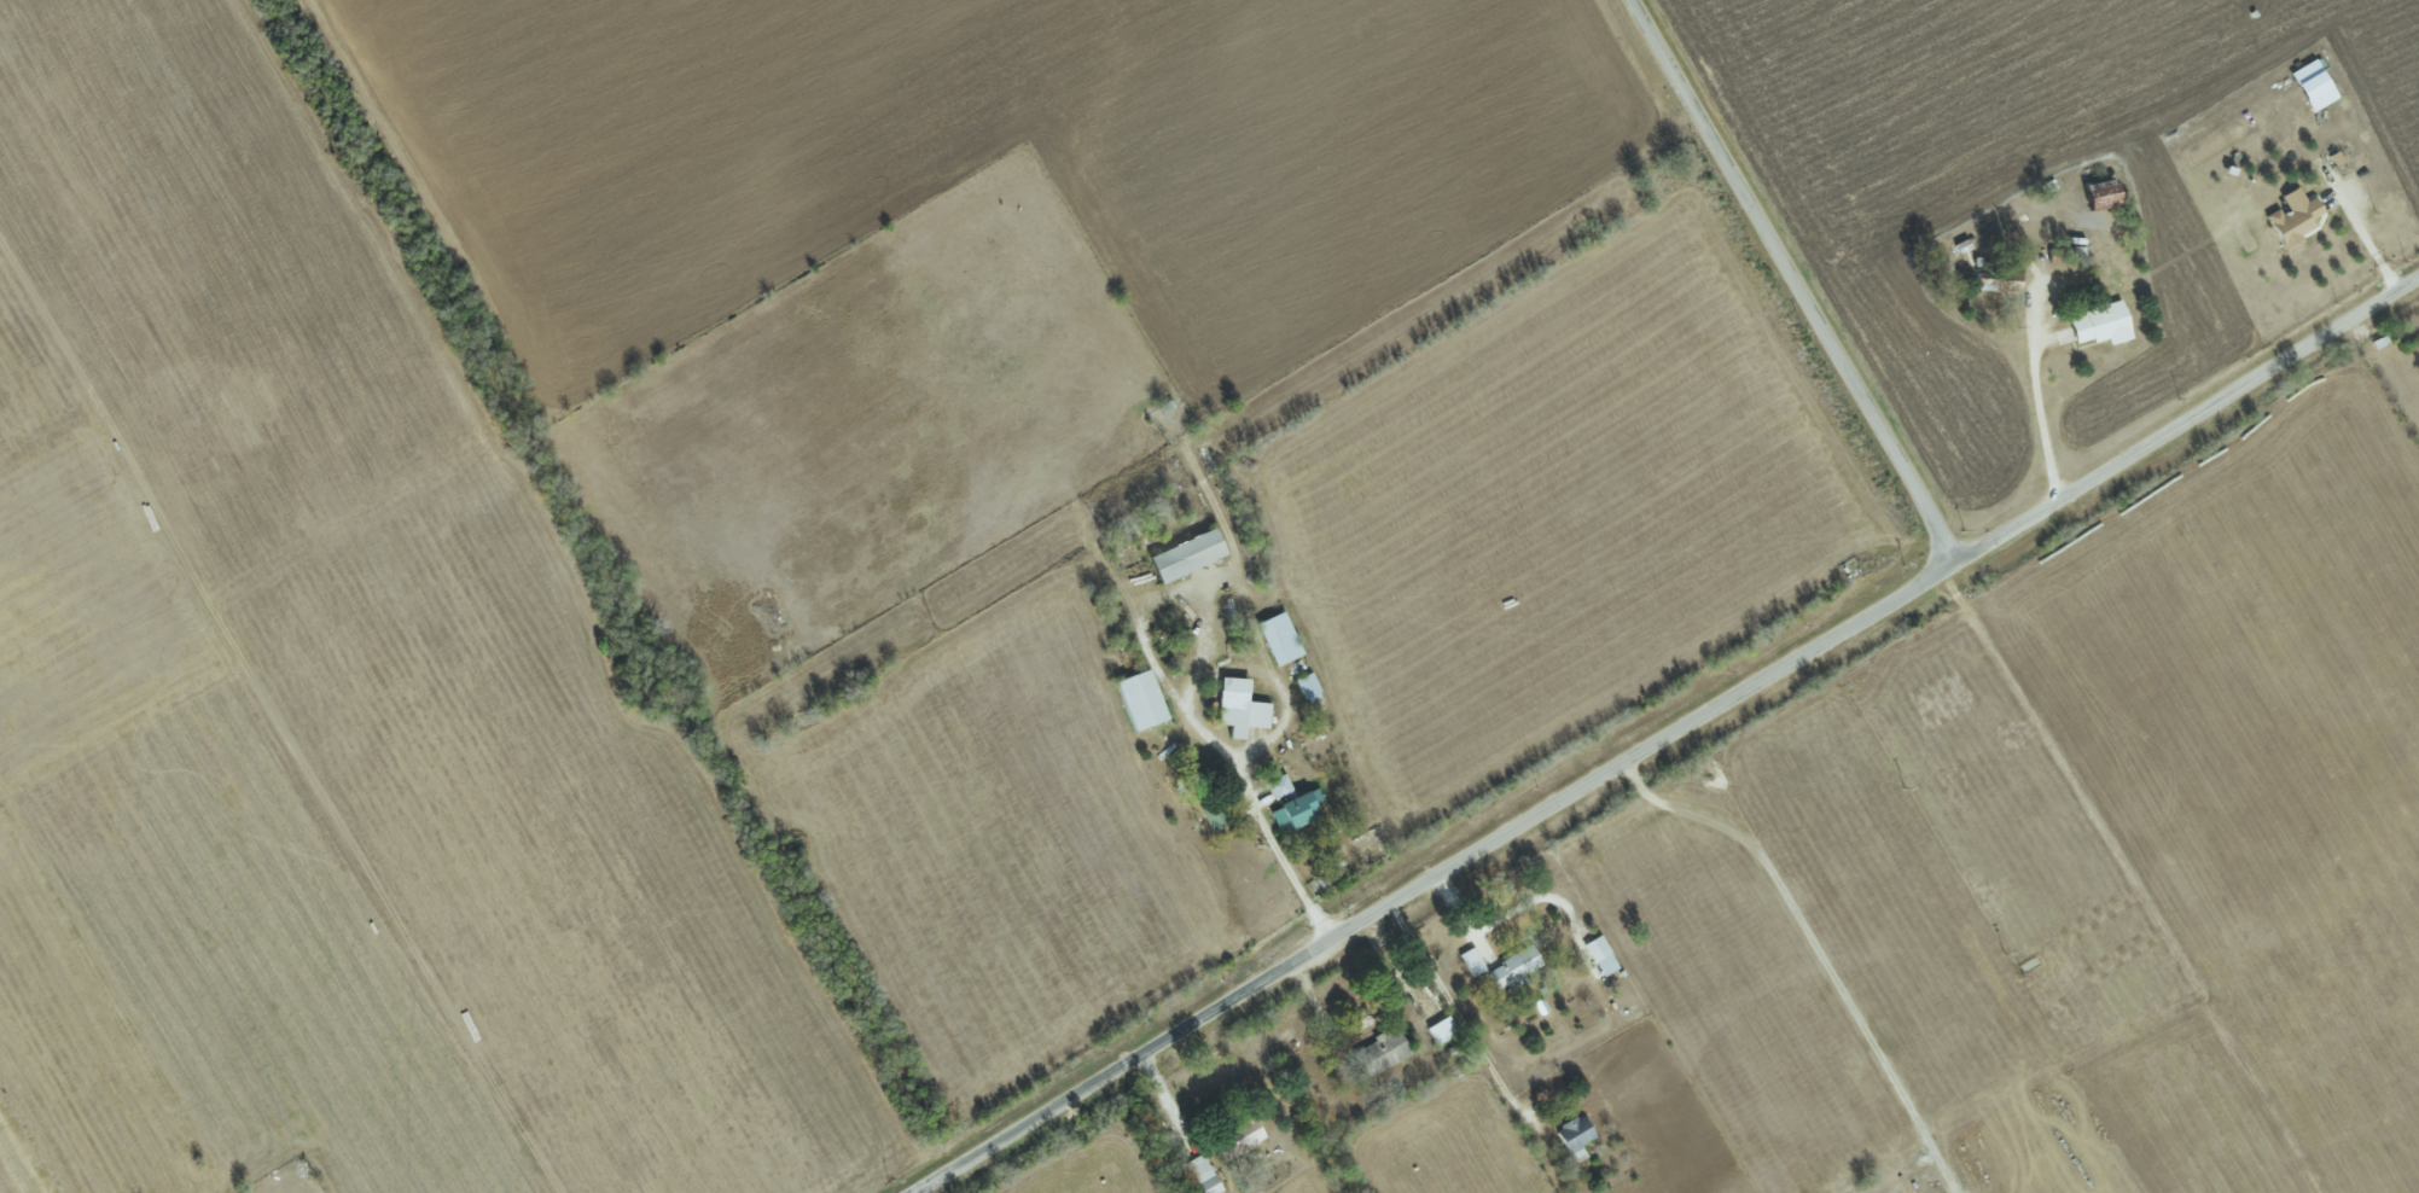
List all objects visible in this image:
building: (2314, 88)
building: (2296, 217)
road: (2369, 241)
road: (1796, 281)
building: (2103, 324)
road: (2039, 400)
building: (1188, 554)
building: (1280, 638)
road: (1146, 647)
building: (1309, 687)
building: (1142, 699)
building: (1242, 708)
road: (1668, 738)
building: (1281, 787)
building: (1298, 810)
building: (1216, 814)
road: (1814, 947)
building: (1603, 955)
building: (1472, 961)
building: (1514, 970)
road: (1455, 1005)
building: (1443, 1030)
building: (1383, 1052)
road: (1169, 1102)
building: (1577, 1134)
building: (1243, 1136)
building: (1203, 1175)

